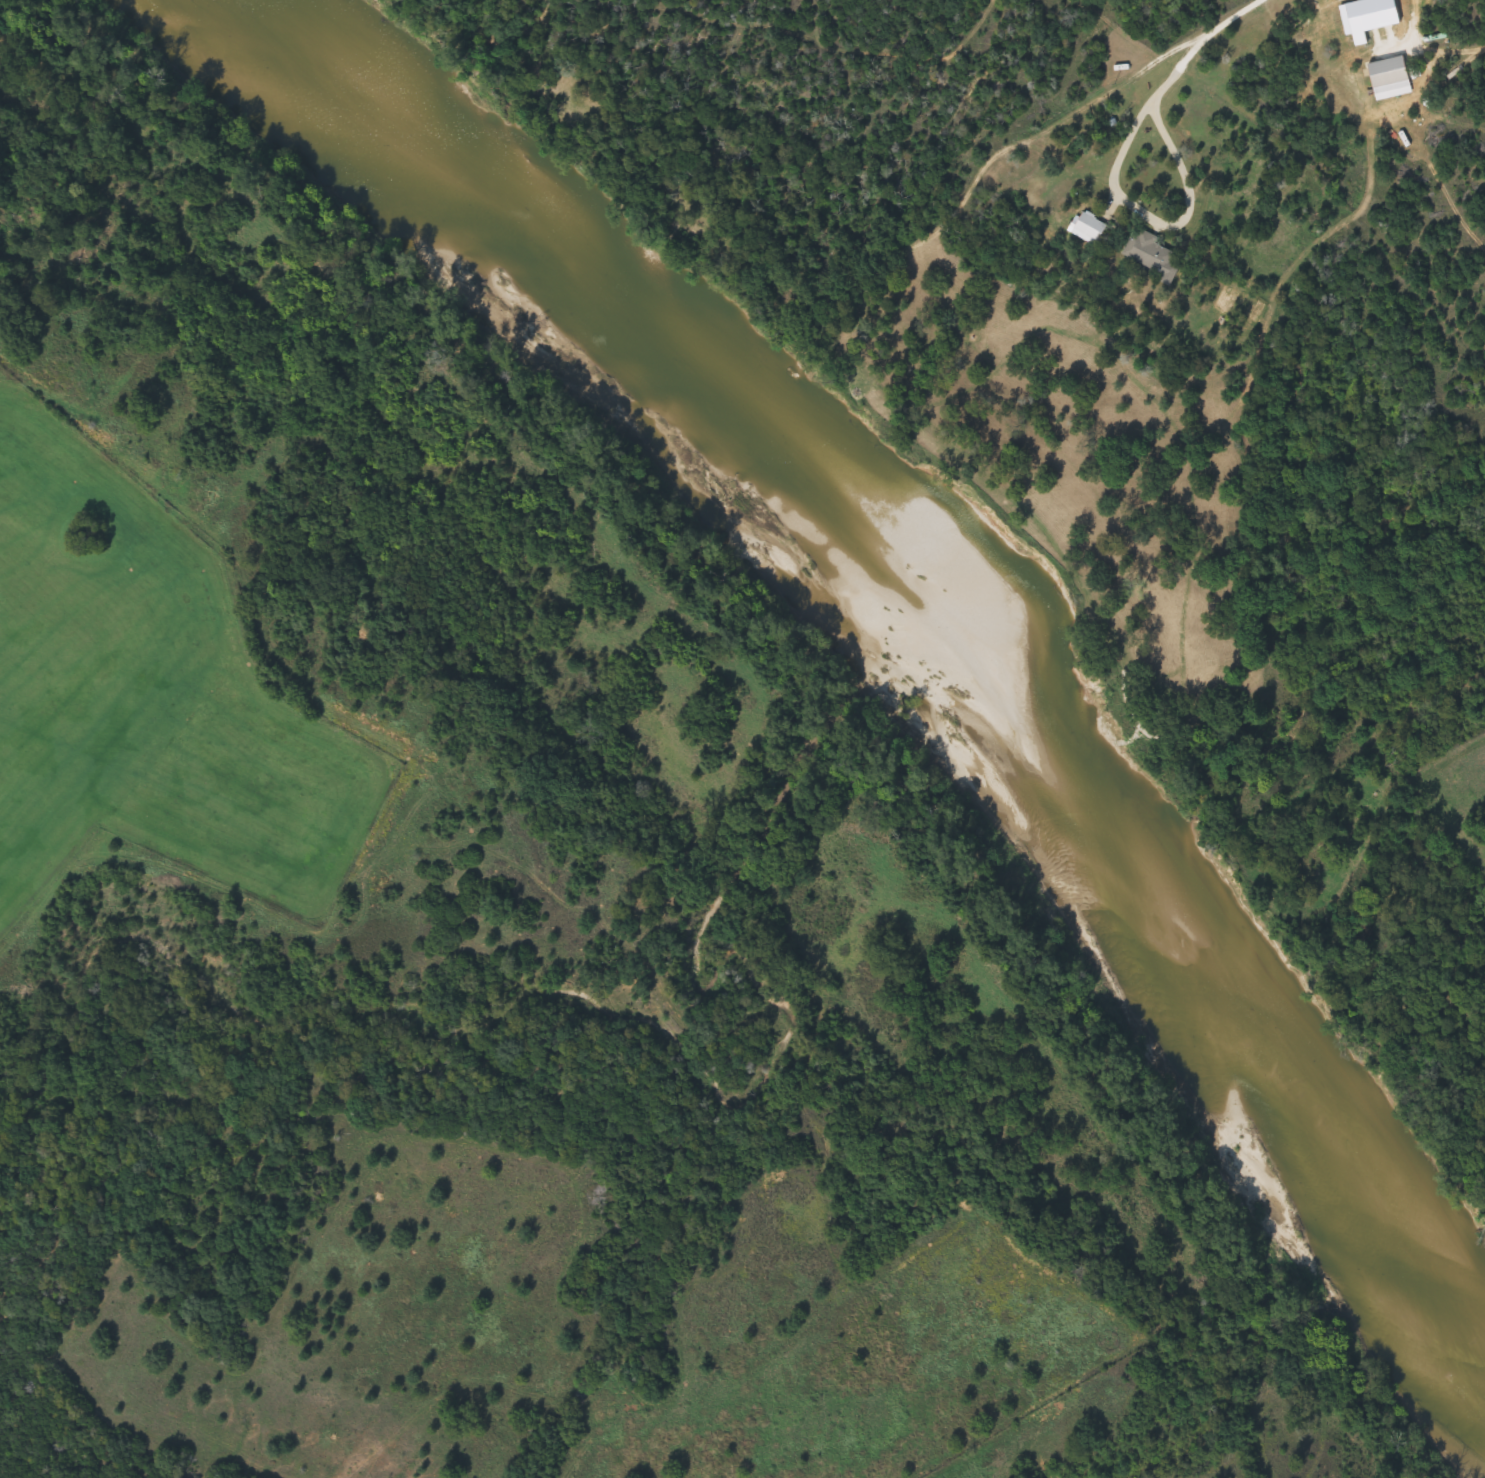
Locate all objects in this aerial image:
road: (1195, 44)
building: (1391, 75)
road: (1158, 223)
building: (1092, 229)
building: (1154, 255)
river: (957, 614)

